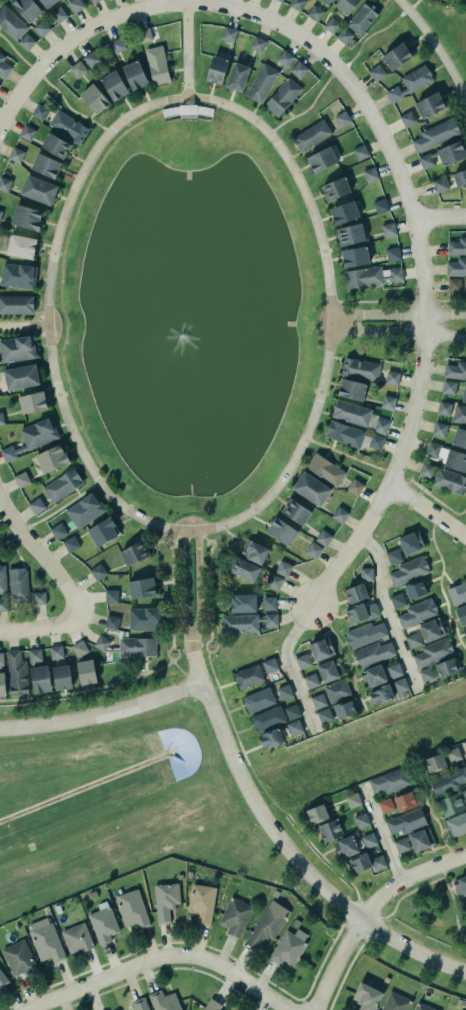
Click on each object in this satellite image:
building: (280, 0)
building: (94, 1)
building: (327, 1)
building: (48, 3)
building: (297, 4)
building: (75, 5)
building: (346, 5)
building: (26, 7)
building: (314, 13)
building: (58, 15)
building: (363, 17)
building: (11, 23)
building: (332, 25)
road: (283, 27)
building: (41, 28)
building: (229, 34)
building: (144, 35)
building: (344, 36)
building: (26, 42)
building: (257, 44)
building: (117, 45)
road: (434, 47)
road: (186, 48)
building: (395, 53)
building: (284, 58)
building: (91, 59)
building: (157, 65)
road: (342, 65)
building: (3, 66)
building: (215, 67)
building: (298, 67)
building: (78, 69)
building: (375, 71)
building: (135, 75)
building: (237, 76)
building: (261, 83)
building: (410, 83)
building: (0, 84)
building: (114, 85)
road: (52, 87)
building: (281, 95)
building: (94, 99)
road: (167, 101)
building: (430, 104)
building: (39, 111)
building: (407, 118)
building: (342, 119)
building: (68, 126)
building: (27, 132)
building: (436, 134)
building: (311, 135)
building: (56, 145)
building: (360, 152)
building: (443, 153)
building: (16, 154)
building: (322, 159)
building: (46, 165)
building: (370, 174)
building: (460, 178)
building: (5, 184)
building: (440, 184)
building: (334, 186)
building: (39, 190)
building: (380, 206)
building: (344, 212)
building: (0, 213)
building: (27, 217)
road: (440, 218)
building: (388, 229)
building: (349, 231)
building: (456, 244)
building: (21, 246)
building: (392, 254)
building: (355, 256)
building: (456, 267)
building: (18, 275)
building: (372, 276)
building: (454, 285)
building: (465, 287)
road: (398, 302)
building: (16, 304)
road: (398, 315)
road: (23, 325)
road: (398, 334)
building: (17, 349)
building: (360, 369)
building: (456, 370)
building: (21, 377)
building: (392, 378)
building: (350, 387)
building: (449, 387)
building: (464, 394)
building: (32, 402)
building: (387, 402)
building: (442, 406)
building: (458, 412)
building: (351, 413)
building: (1, 418)
building: (381, 426)
building: (439, 429)
building: (345, 434)
building: (458, 435)
building: (32, 436)
building: (376, 441)
building: (433, 449)
road: (349, 457)
building: (52, 458)
building: (455, 460)
building: (324, 468)
building: (425, 469)
road: (394, 470)
building: (21, 479)
building: (450, 481)
building: (61, 483)
building: (353, 485)
building: (311, 488)
road: (427, 494)
building: (35, 504)
building: (84, 508)
building: (295, 509)
road: (426, 511)
building: (340, 514)
road: (48, 515)
building: (101, 529)
building: (280, 529)
building: (58, 531)
road: (179, 536)
road: (203, 536)
building: (322, 536)
building: (411, 542)
building: (71, 543)
road: (169, 547)
road: (207, 547)
building: (312, 548)
building: (252, 550)
building: (134, 553)
road: (40, 555)
building: (393, 556)
building: (243, 567)
building: (283, 568)
building: (409, 570)
building: (98, 572)
building: (366, 574)
building: (2, 579)
building: (274, 581)
building: (18, 584)
building: (140, 585)
road: (439, 585)
building: (413, 587)
road: (184, 589)
road: (198, 589)
building: (457, 592)
building: (355, 593)
building: (110, 594)
road: (210, 594)
building: (39, 598)
road: (171, 598)
building: (396, 599)
building: (241, 600)
building: (267, 602)
building: (3, 604)
building: (359, 610)
road: (385, 611)
building: (417, 613)
building: (461, 613)
building: (144, 619)
building: (245, 621)
building: (111, 622)
road: (41, 627)
building: (432, 629)
building: (464, 632)
building: (365, 634)
building: (413, 640)
building: (101, 643)
building: (135, 645)
building: (80, 648)
building: (321, 649)
building: (432, 651)
building: (56, 652)
road: (210, 652)
building: (371, 652)
building: (33, 653)
road: (343, 654)
building: (0, 658)
road: (171, 659)
building: (303, 660)
road: (195, 665)
building: (270, 665)
road: (289, 665)
building: (445, 666)
building: (85, 670)
building: (329, 670)
building: (394, 670)
building: (15, 672)
road: (183, 674)
building: (247, 674)
building: (372, 674)
building: (427, 674)
building: (60, 675)
building: (39, 677)
building: (310, 681)
building: (1, 682)
building: (400, 685)
road: (88, 689)
building: (335, 689)
building: (284, 692)
building: (379, 692)
building: (258, 699)
building: (317, 699)
building: (342, 707)
road: (224, 709)
building: (292, 711)
road: (101, 713)
building: (323, 714)
building: (267, 718)
building: (293, 726)
building: (270, 736)
road: (464, 749)
building: (453, 754)
building: (435, 763)
building: (390, 781)
building: (447, 782)
road: (266, 791)
building: (464, 795)
building: (353, 800)
building: (405, 801)
building: (450, 804)
building: (385, 805)
building: (316, 814)
road: (431, 815)
building: (361, 820)
building: (405, 820)
building: (456, 823)
building: (330, 830)
road: (379, 833)
building: (421, 839)
building: (369, 840)
building: (401, 845)
building: (345, 847)
building: (365, 861)
road: (296, 862)
road: (329, 864)
road: (406, 879)
building: (460, 886)
road: (397, 899)
building: (165, 900)
building: (202, 903)
road: (453, 903)
building: (463, 905)
building: (132, 909)
building: (235, 916)
building: (102, 923)
building: (267, 924)
building: (77, 938)
building: (45, 940)
building: (288, 947)
road: (166, 957)
building: (19, 958)
road: (333, 963)
building: (2, 978)
building: (366, 997)
building: (164, 1001)
building: (395, 1002)
building: (139, 1004)
building: (211, 1005)
road: (29, 1006)
building: (422, 1007)

